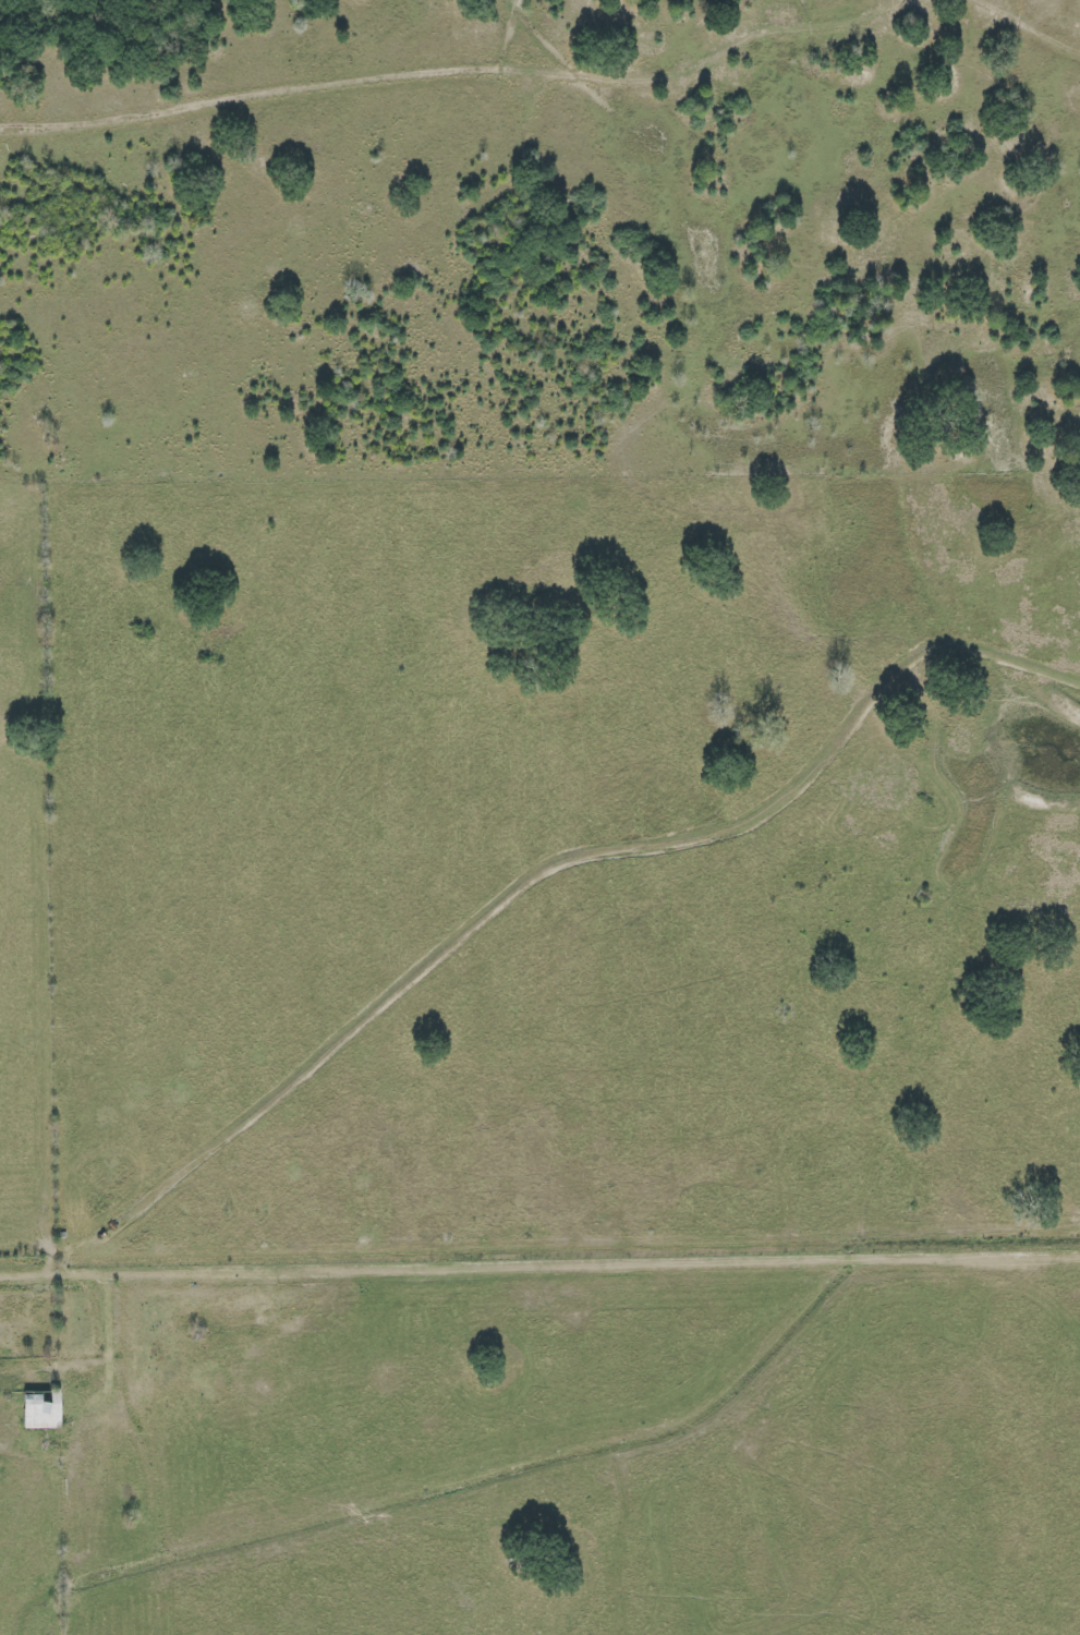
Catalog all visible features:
building: (39, 1409)

